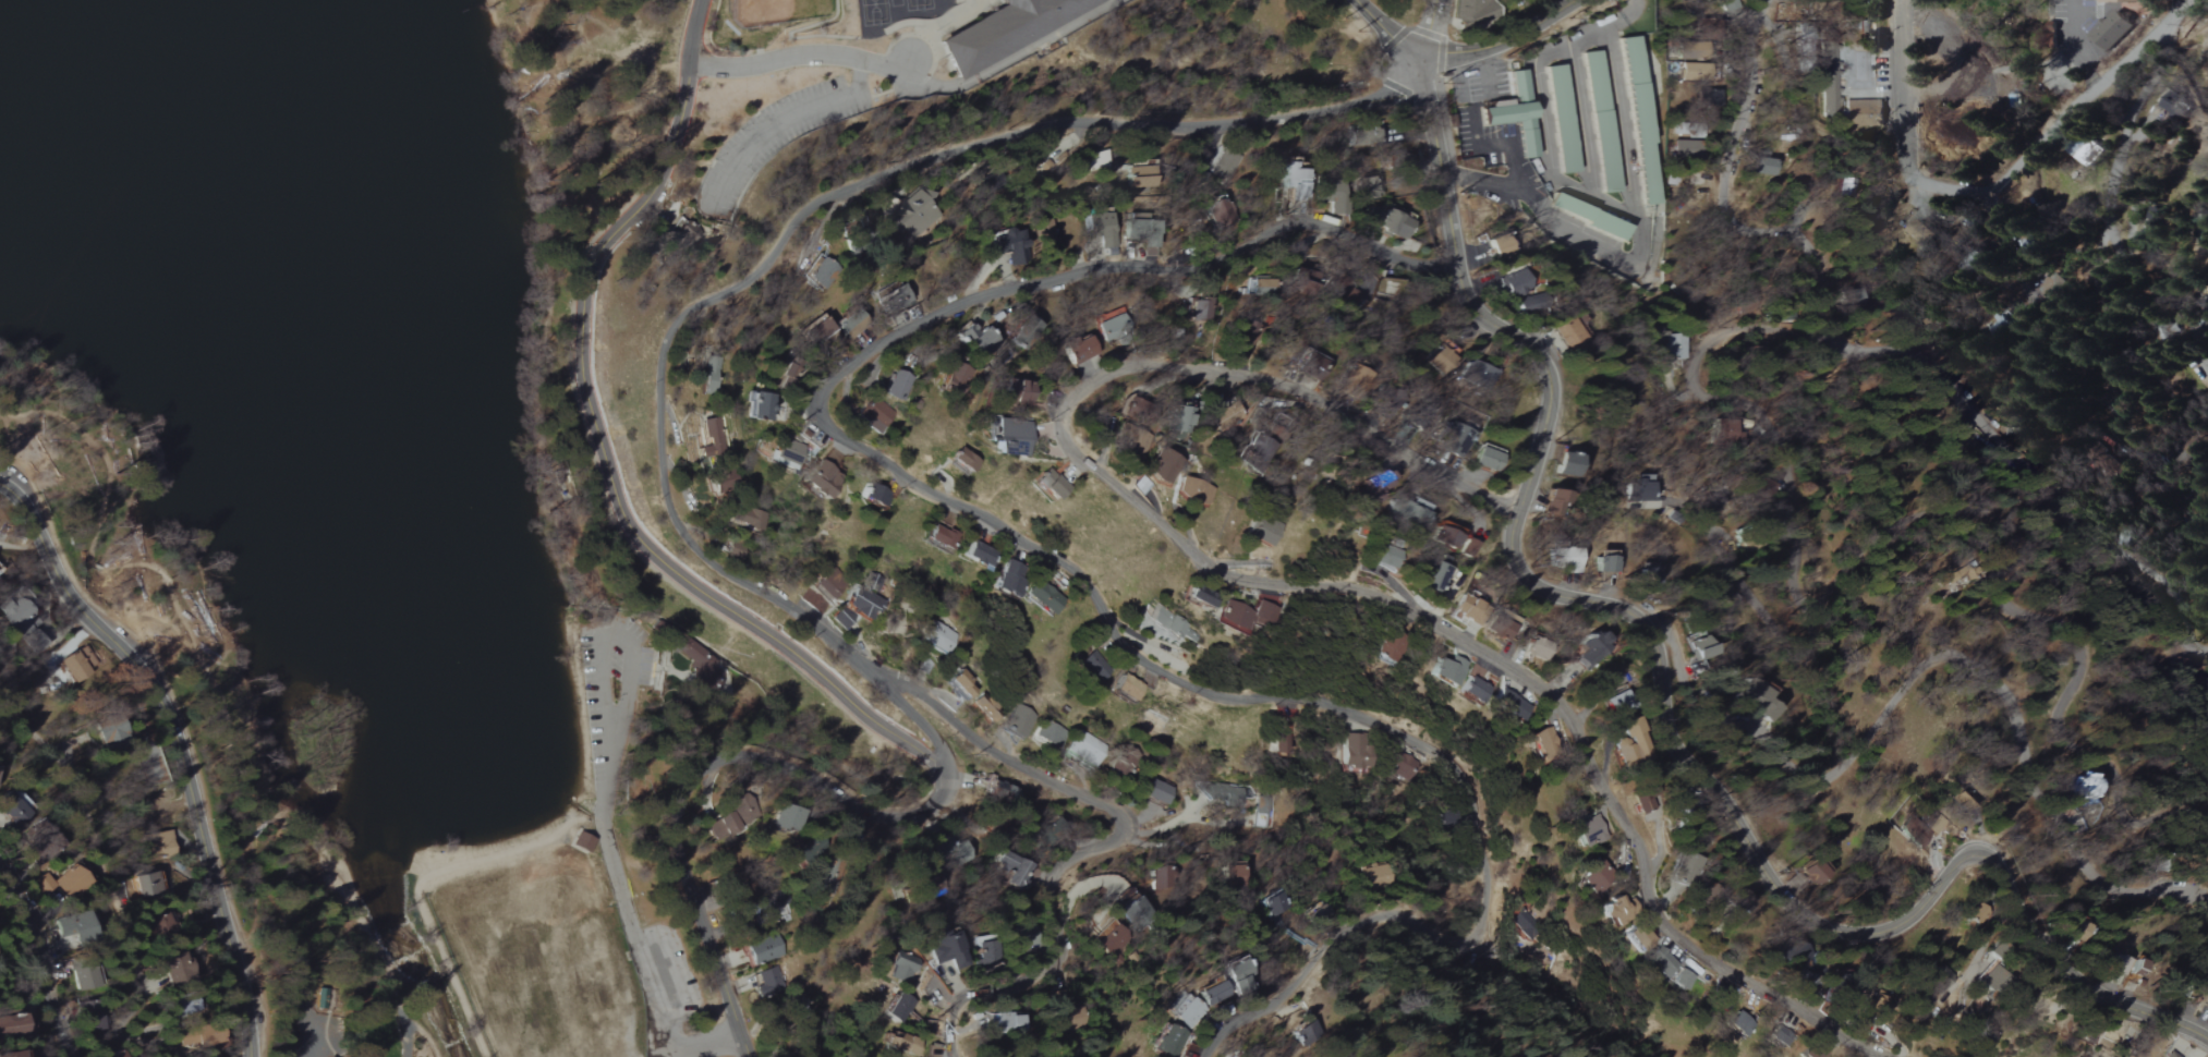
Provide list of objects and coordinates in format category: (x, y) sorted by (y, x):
building: (2124, 0)
road: (2184, 3)
road: (2188, 3)
road: (1624, 16)
building: (1000, 31)
building: (2108, 31)
road: (699, 32)
road: (1439, 37)
road: (1509, 37)
road: (1392, 38)
road: (2076, 45)
road: (779, 60)
road: (2159, 64)
road: (999, 65)
building: (1697, 71)
road: (2084, 95)
building: (1832, 104)
building: (2172, 109)
building: (1865, 112)
building: (1516, 113)
building: (1561, 119)
road: (1581, 120)
building: (1639, 120)
building: (1600, 121)
road: (787, 123)
road: (1907, 129)
building: (1372, 133)
building: (1687, 149)
building: (1096, 160)
building: (1224, 163)
building: (1767, 167)
road: (1512, 170)
building: (1140, 177)
building: (1294, 183)
road: (1594, 198)
building: (1337, 205)
building: (1223, 211)
building: (911, 215)
building: (1589, 216)
building: (1388, 221)
building: (2154, 221)
building: (1101, 224)
building: (1046, 231)
building: (1926, 232)
building: (687, 234)
road: (1589, 242)
building: (1014, 246)
building: (851, 248)
road: (771, 253)
road: (2116, 258)
building: (822, 272)
building: (1515, 284)
building: (2050, 289)
building: (1199, 308)
building: (820, 329)
building: (1569, 333)
building: (979, 340)
building: (1674, 348)
road: (1882, 349)
building: (1080, 350)
road: (2091, 351)
building: (1483, 373)
building: (711, 376)
building: (958, 377)
building: (899, 382)
building: (1018, 391)
building: (761, 405)
building: (1130, 409)
building: (876, 414)
building: (1181, 416)
building: (1011, 437)
building: (1459, 438)
building: (712, 439)
building: (1262, 447)
building: (788, 453)
building: (1488, 459)
building: (963, 460)
building: (1566, 464)
building: (1163, 465)
building: (821, 479)
road: (606, 484)
building: (1050, 484)
building: (1642, 488)
building: (1194, 493)
building: (874, 495)
park: (383, 497)
building: (1551, 502)
building: (1412, 513)
building: (749, 518)
building: (1263, 531)
building: (941, 537)
building: (1455, 540)
building: (737, 550)
road: (1856, 551)
road: (1071, 554)
building: (979, 555)
building: (1567, 557)
building: (1385, 558)
building: (1606, 561)
building: (1433, 575)
road: (560, 578)
road: (1733, 578)
building: (1009, 579)
road: (1281, 587)
building: (1045, 596)
building: (1199, 596)
building: (814, 602)
building: (858, 607)
building: (1464, 608)
building: (1243, 616)
building: (20, 619)
building: (1167, 622)
building: (1506, 627)
road: (620, 635)
building: (939, 637)
building: (1695, 645)
building: (1386, 646)
building: (1589, 648)
building: (80, 665)
road: (780, 665)
building: (1092, 668)
building: (703, 670)
road: (1932, 670)
building: (1447, 671)
building: (1124, 688)
building: (1473, 690)
building: (973, 694)
road: (221, 700)
building: (1754, 701)
building: (1613, 705)
building: (1508, 707)
road: (1661, 707)
building: (675, 709)
building: (1018, 721)
road: (184, 727)
building: (113, 733)
building: (1050, 733)
building: (1543, 742)
road: (178, 744)
building: (1628, 745)
building: (1084, 748)
building: (1356, 752)
building: (1402, 768)
road: (695, 773)
building: (2086, 785)
building: (999, 790)
building: (1157, 791)
building: (1222, 793)
building: (1645, 802)
building: (15, 811)
building: (1264, 815)
road: (587, 816)
building: (733, 818)
building: (782, 818)
building: (1588, 830)
building: (44, 839)
building: (583, 842)
building: (159, 846)
road: (1083, 850)
building: (959, 855)
road: (108, 856)
building: (1011, 868)
building: (1812, 872)
building: (1234, 876)
building: (1376, 876)
building: (1594, 877)
building: (1161, 878)
building: (72, 883)
building: (147, 884)
road: (621, 890)
building: (1275, 903)
building: (1135, 911)
building: (1617, 911)
building: (1315, 913)
building: (1976, 914)
building: (1520, 925)
building: (73, 928)
building: (1109, 938)
building: (1640, 938)
building: (764, 949)
building: (987, 950)
building: (948, 952)
road: (39, 957)
park: (541, 962)
building: (902, 969)
building: (2115, 970)
building: (1671, 972)
building: (181, 973)
building: (1236, 974)
building: (84, 977)
building: (1995, 980)
building: (769, 983)
building: (1211, 993)
building: (2198, 994)
building: (324, 1001)
building: (183, 1006)
building: (898, 1008)
building: (1187, 1011)
building: (1004, 1023)
building: (1738, 1024)
building: (11, 1028)
building: (1306, 1034)
building: (1779, 1037)
building: (1169, 1041)
road: (697, 1044)
building: (900, 1044)
building: (811, 1048)
building: (1812, 1053)
building: (12, 1054)
building: (2135, 1054)
building: (2170, 1055)

